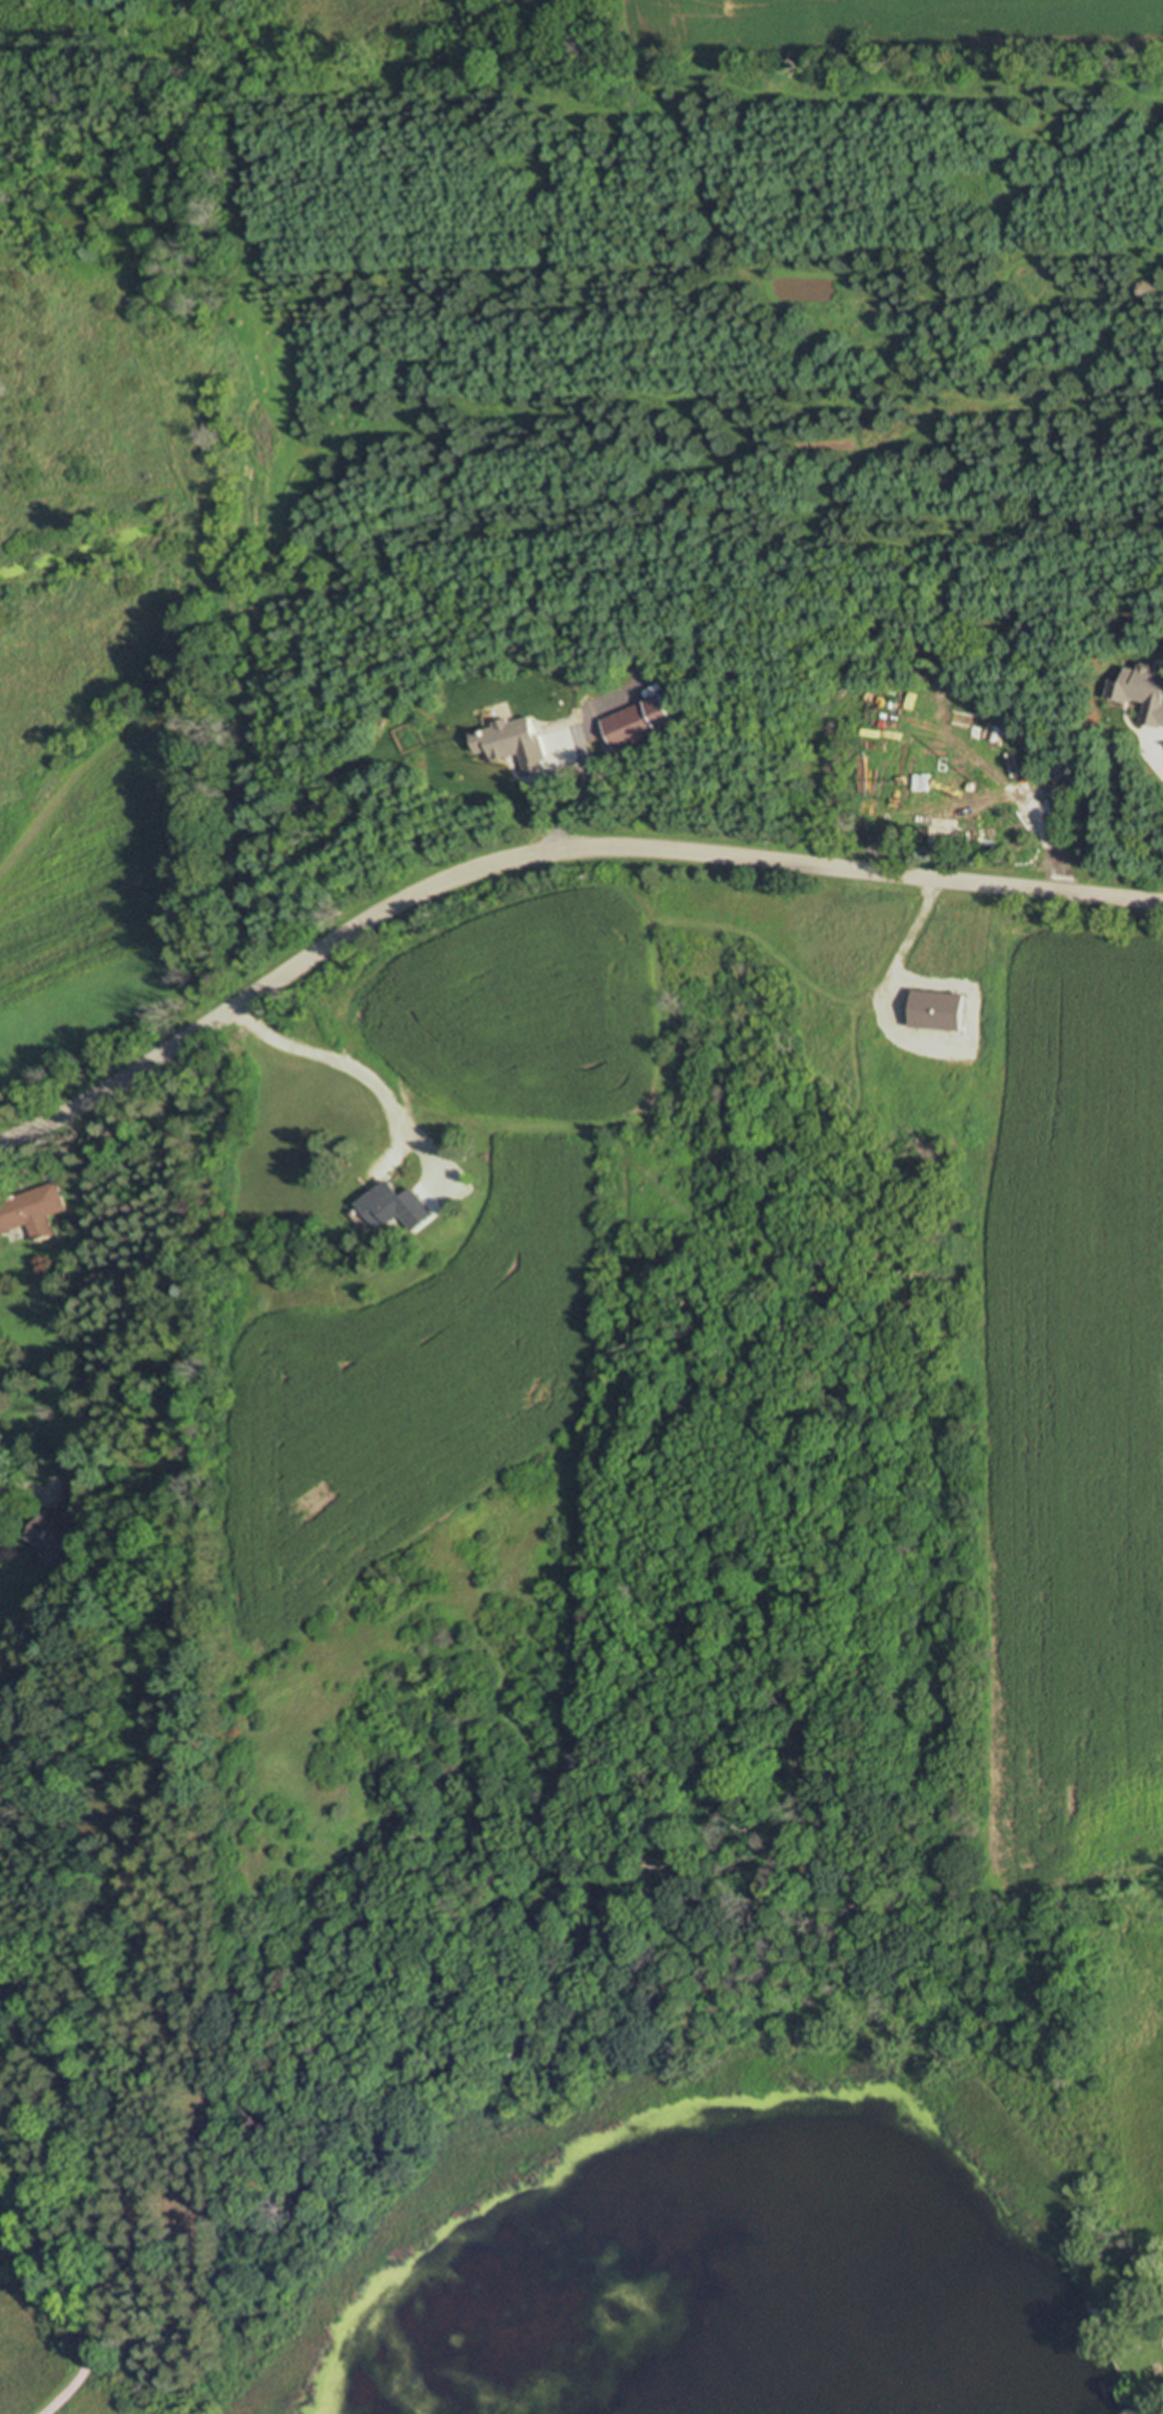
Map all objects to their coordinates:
road: (1161, 752)
road: (543, 858)
road: (349, 1065)
building: (384, 1205)
building: (31, 1211)
road: (22, 1484)
building: (66, 1520)
building: (7, 1983)
road: (71, 2266)

